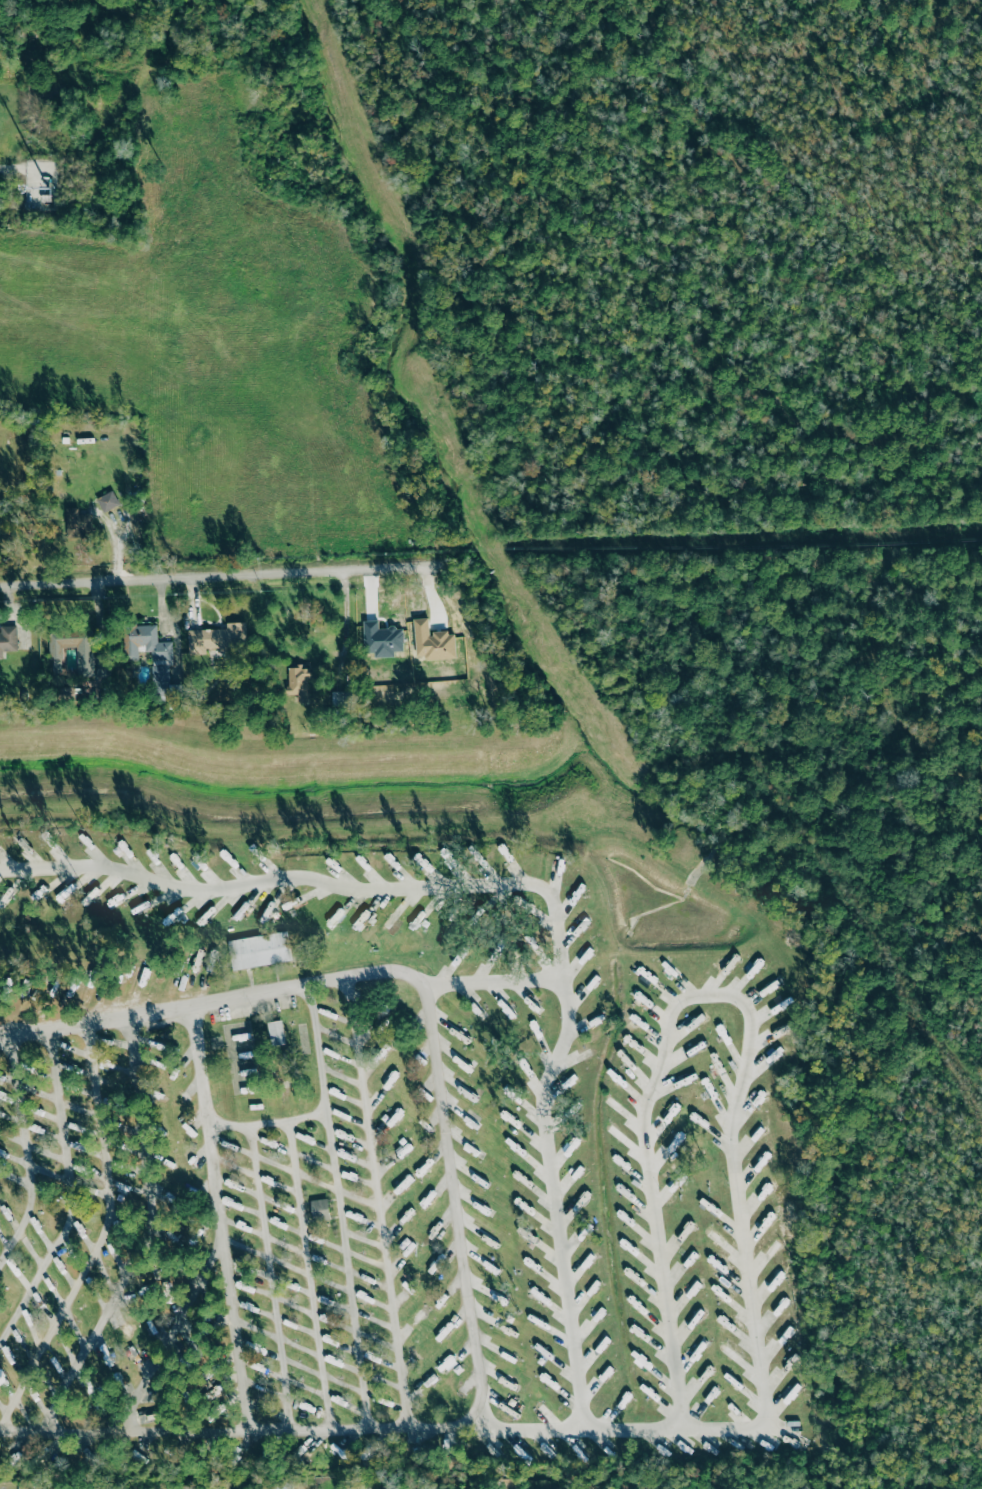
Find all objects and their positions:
building: (107, 500)
building: (76, 523)
road: (228, 575)
road: (344, 622)
building: (7, 638)
building: (216, 638)
building: (147, 642)
building: (84, 658)
building: (160, 680)
building: (298, 682)
road: (382, 889)
building: (259, 950)
road: (426, 1022)
building: (276, 1033)
road: (730, 1109)
road: (270, 1125)
road: (25, 1151)
road: (298, 1179)
road: (70, 1194)
road: (338, 1195)
road: (551, 1198)
building: (319, 1207)
road: (382, 1212)
road: (144, 1237)
road: (99, 1239)
road: (233, 1296)
road: (315, 1296)
road: (169, 1331)
road: (250, 1431)

